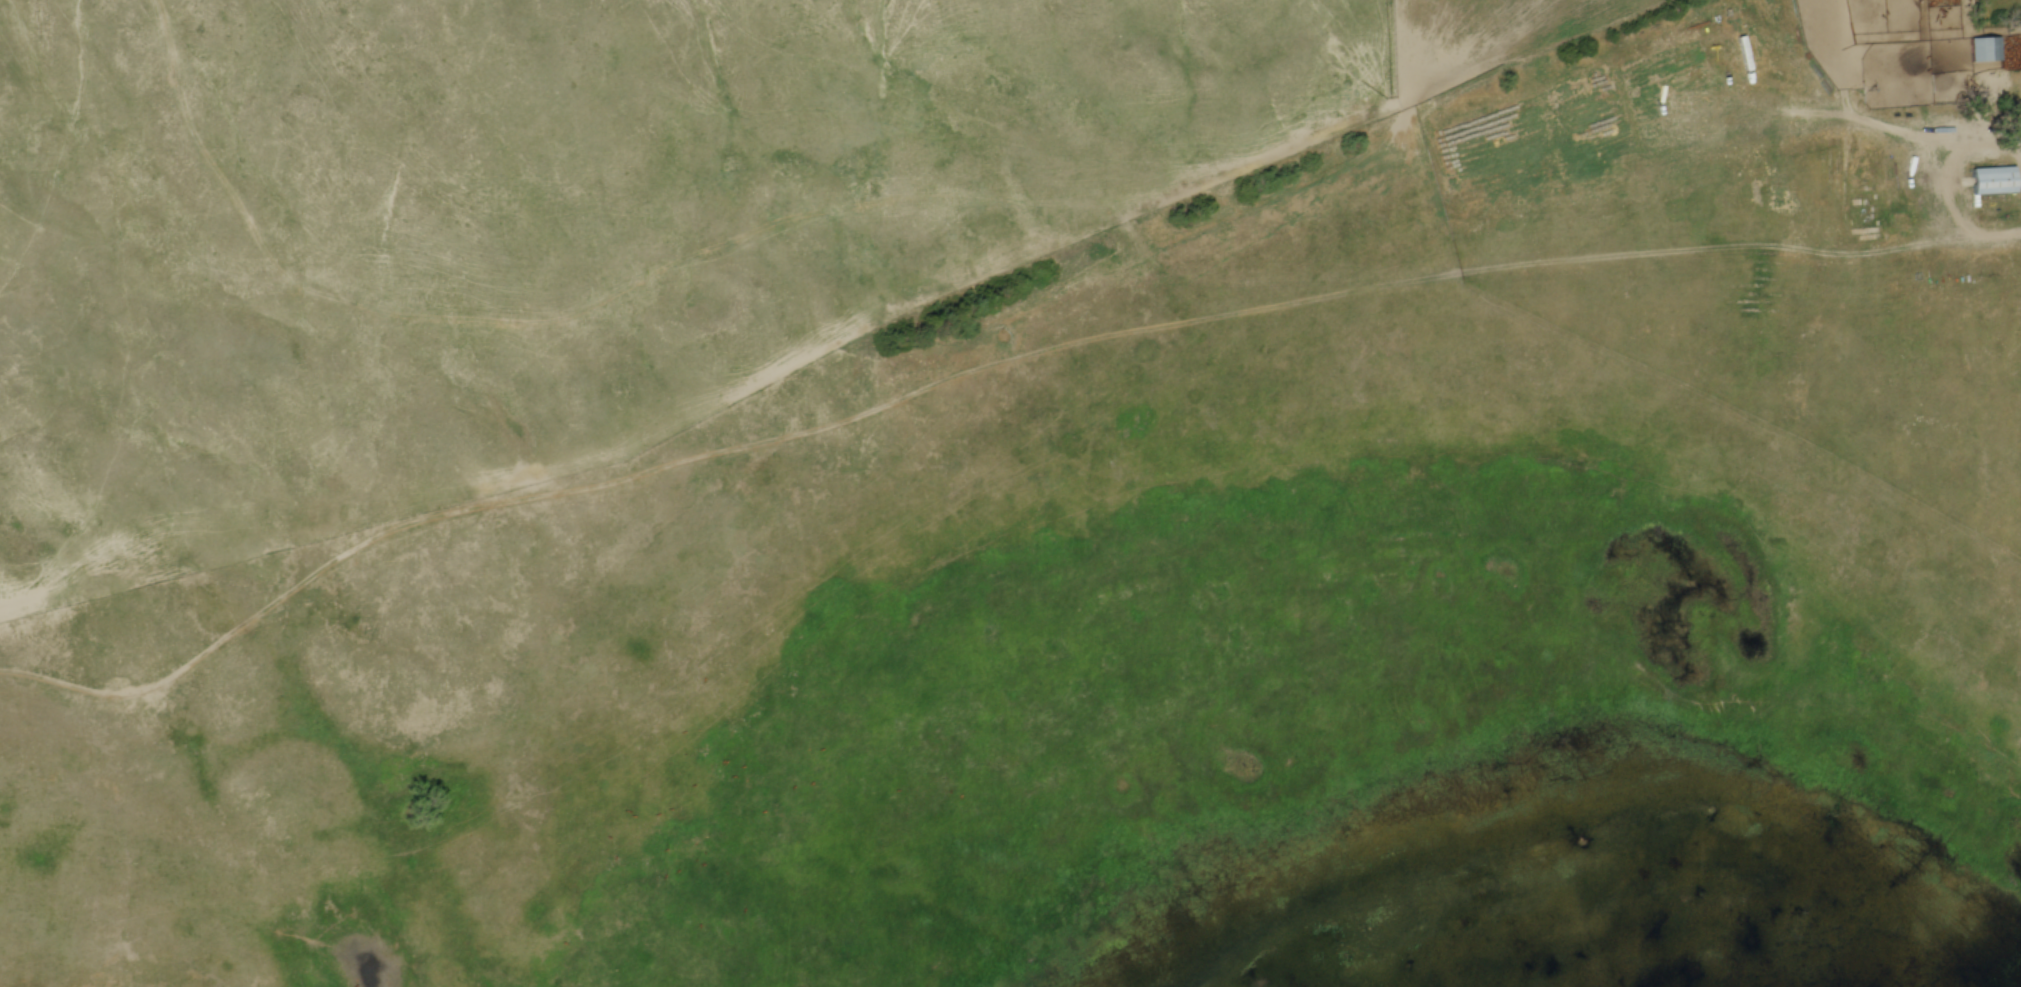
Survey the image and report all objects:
building: (1981, 51)
building: (1988, 182)

